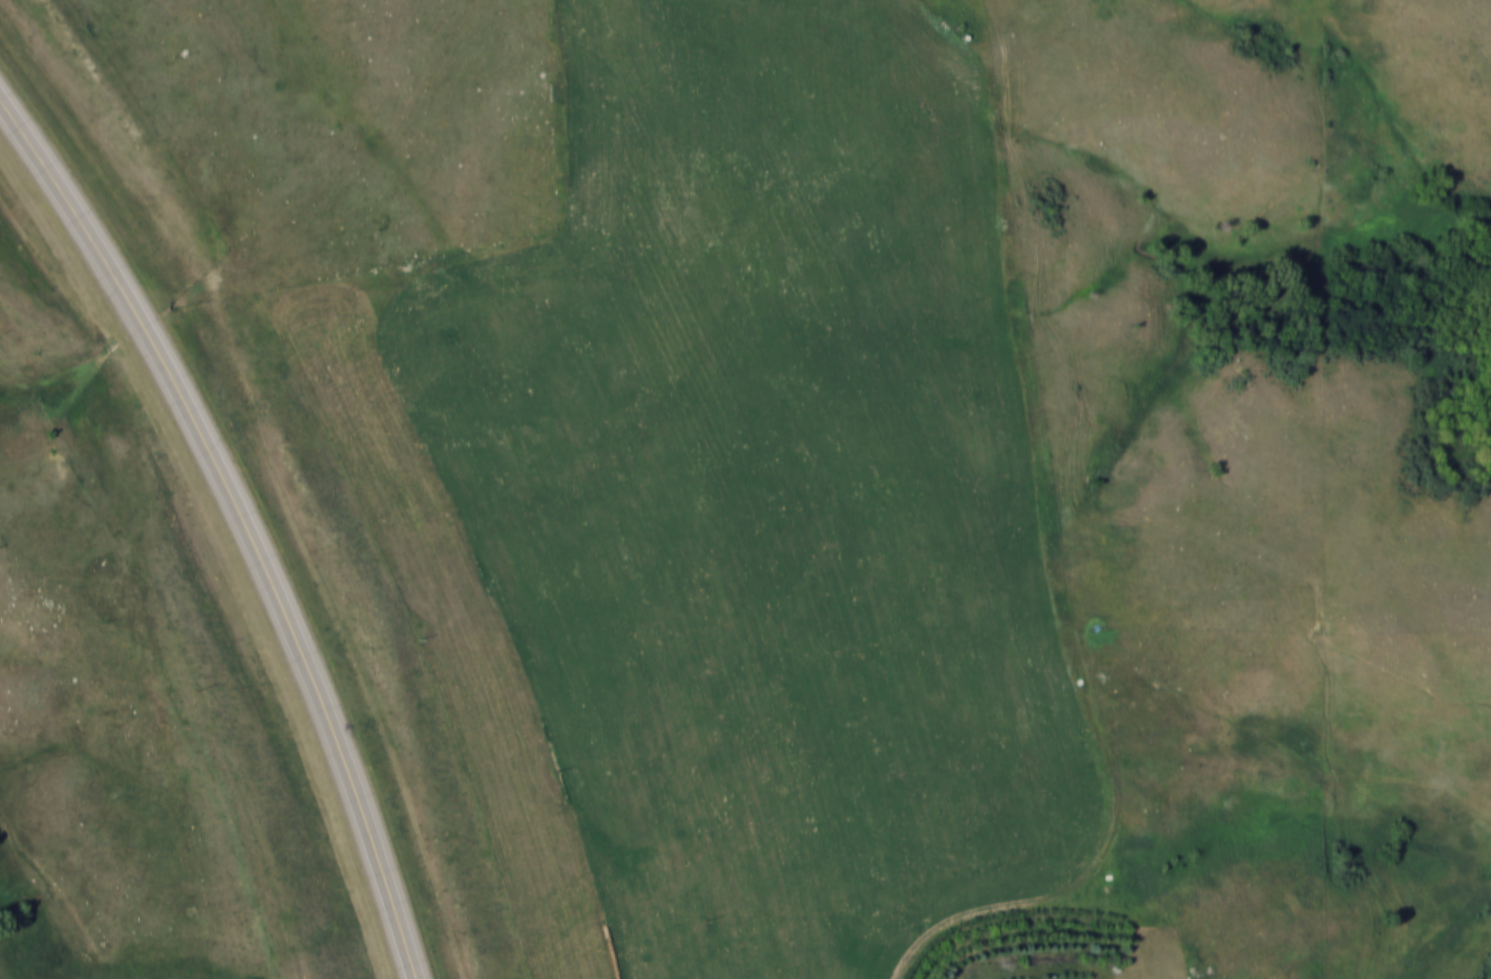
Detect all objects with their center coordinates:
park: (1407, 309)
road: (246, 519)

